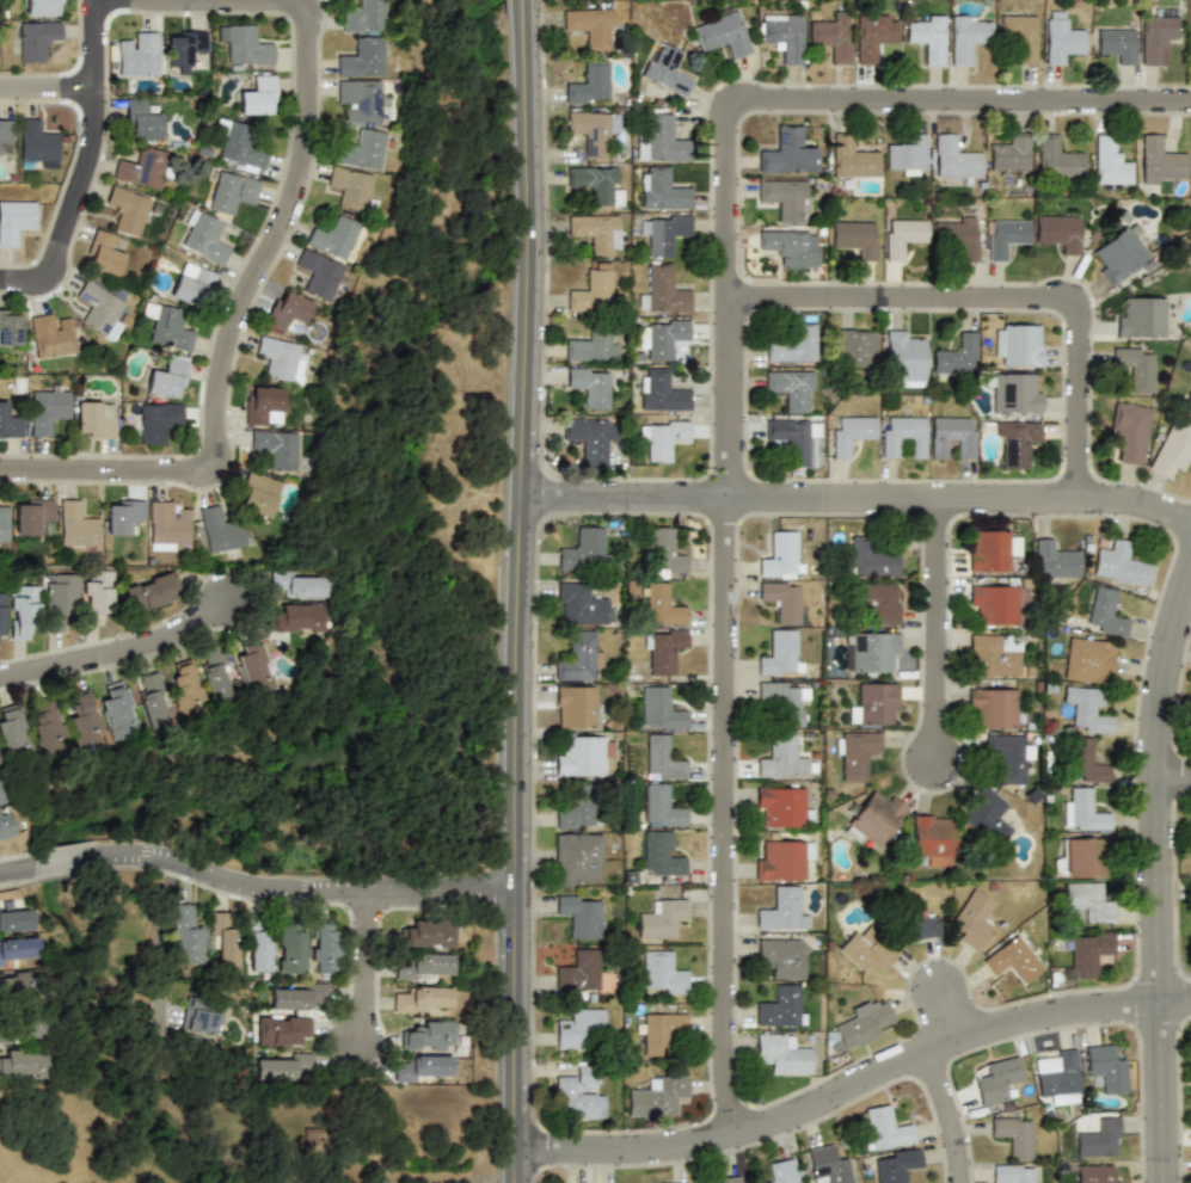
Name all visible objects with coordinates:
building: (42, 7)
building: (362, 17)
building: (589, 25)
building: (720, 33)
building: (872, 33)
building: (1158, 35)
building: (784, 36)
building: (831, 37)
building: (926, 37)
building: (968, 37)
building: (1020, 37)
building: (1063, 38)
building: (35, 39)
building: (1190, 42)
building: (244, 43)
building: (1117, 45)
building: (184, 48)
building: (139, 54)
building: (358, 57)
building: (665, 69)
building: (587, 84)
building: (256, 95)
building: (357, 98)
road: (50, 99)
building: (140, 119)
building: (591, 129)
building: (5, 134)
building: (659, 140)
building: (37, 141)
building: (360, 148)
building: (238, 149)
building: (786, 152)
building: (1011, 152)
building: (907, 154)
building: (852, 156)
building: (954, 158)
building: (1057, 158)
building: (1110, 161)
building: (1161, 161)
building: (140, 167)
road: (92, 173)
building: (595, 183)
building: (348, 187)
building: (662, 190)
building: (231, 192)
building: (782, 198)
building: (127, 210)
building: (16, 221)
building: (1057, 232)
building: (597, 233)
building: (659, 233)
building: (956, 235)
building: (333, 236)
building: (902, 236)
building: (1005, 236)
building: (204, 238)
building: (854, 238)
building: (790, 246)
building: (102, 253)
building: (1119, 253)
road: (275, 255)
building: (317, 275)
building: (191, 284)
building: (590, 290)
building: (662, 291)
road: (1008, 306)
building: (98, 307)
building: (286, 310)
building: (1141, 318)
building: (168, 326)
building: (10, 327)
building: (50, 335)
building: (663, 337)
building: (1017, 344)
building: (791, 345)
building: (854, 345)
building: (591, 347)
building: (954, 355)
building: (278, 358)
building: (903, 358)
building: (1134, 366)
building: (167, 377)
building: (588, 386)
building: (790, 389)
building: (661, 392)
building: (1012, 393)
road: (731, 399)
building: (1186, 402)
building: (262, 406)
building: (47, 409)
building: (94, 419)
building: (10, 421)
building: (156, 421)
building: (1128, 431)
building: (851, 433)
building: (951, 436)
building: (589, 437)
building: (902, 437)
building: (661, 438)
building: (792, 438)
building: (1014, 443)
building: (274, 448)
building: (1172, 448)
building: (256, 493)
road: (857, 509)
building: (31, 515)
building: (123, 517)
building: (4, 522)
building: (76, 523)
building: (166, 524)
building: (220, 531)
building: (587, 548)
building: (987, 549)
building: (663, 554)
building: (780, 555)
building: (1054, 557)
building: (870, 559)
building: (1119, 563)
building: (300, 584)
road: (518, 591)
building: (148, 592)
building: (96, 597)
building: (60, 599)
building: (781, 600)
building: (995, 603)
building: (578, 604)
building: (658, 604)
building: (880, 604)
building: (23, 609)
building: (1104, 611)
building: (296, 617)
building: (1, 618)
road: (940, 642)
building: (662, 649)
building: (867, 652)
building: (780, 653)
building: (578, 655)
building: (989, 655)
building: (1087, 659)
road: (124, 666)
building: (253, 667)
building: (215, 676)
building: (184, 689)
building: (151, 700)
building: (786, 700)
building: (877, 703)
building: (575, 706)
building: (994, 707)
building: (658, 709)
building: (1086, 709)
building: (1189, 709)
building: (116, 711)
building: (81, 719)
building: (48, 725)
building: (11, 733)
building: (854, 753)
building: (583, 754)
building: (781, 756)
building: (1007, 756)
building: (662, 757)
building: (1085, 760)
road: (1175, 788)
building: (659, 806)
building: (782, 806)
building: (578, 807)
building: (1082, 811)
building: (987, 814)
building: (873, 819)
building: (5, 826)
building: (929, 832)
building: (1189, 838)
building: (661, 854)
building: (1083, 856)
building: (577, 858)
building: (782, 859)
road: (1161, 889)
road: (256, 899)
building: (1087, 900)
building: (781, 910)
building: (579, 913)
building: (661, 918)
building: (16, 919)
building: (974, 919)
building: (917, 920)
building: (428, 932)
building: (186, 936)
building: (223, 941)
road: (159, 947)
building: (257, 947)
building: (323, 948)
building: (289, 949)
building: (17, 950)
building: (866, 950)
building: (1088, 950)
building: (782, 957)
building: (1012, 960)
building: (424, 967)
road: (374, 972)
building: (579, 972)
building: (661, 973)
building: (16, 984)
building: (299, 997)
building: (422, 999)
building: (780, 1006)
building: (197, 1016)
road: (951, 1019)
building: (861, 1024)
building: (20, 1028)
building: (579, 1028)
building: (280, 1030)
building: (661, 1033)
building: (429, 1036)
building: (833, 1042)
building: (782, 1054)
building: (18, 1064)
building: (1190, 1064)
building: (283, 1065)
building: (422, 1067)
building: (1104, 1068)
building: (585, 1076)
building: (1058, 1076)
building: (996, 1079)
building: (657, 1096)
building: (572, 1098)
road: (855, 1099)
road: (951, 1122)
building: (884, 1127)
building: (1012, 1136)
building: (1098, 1138)
building: (827, 1165)
building: (895, 1165)
road: (499, 1170)
building: (780, 1172)
building: (1011, 1173)
building: (1097, 1173)
building: (720, 1179)

